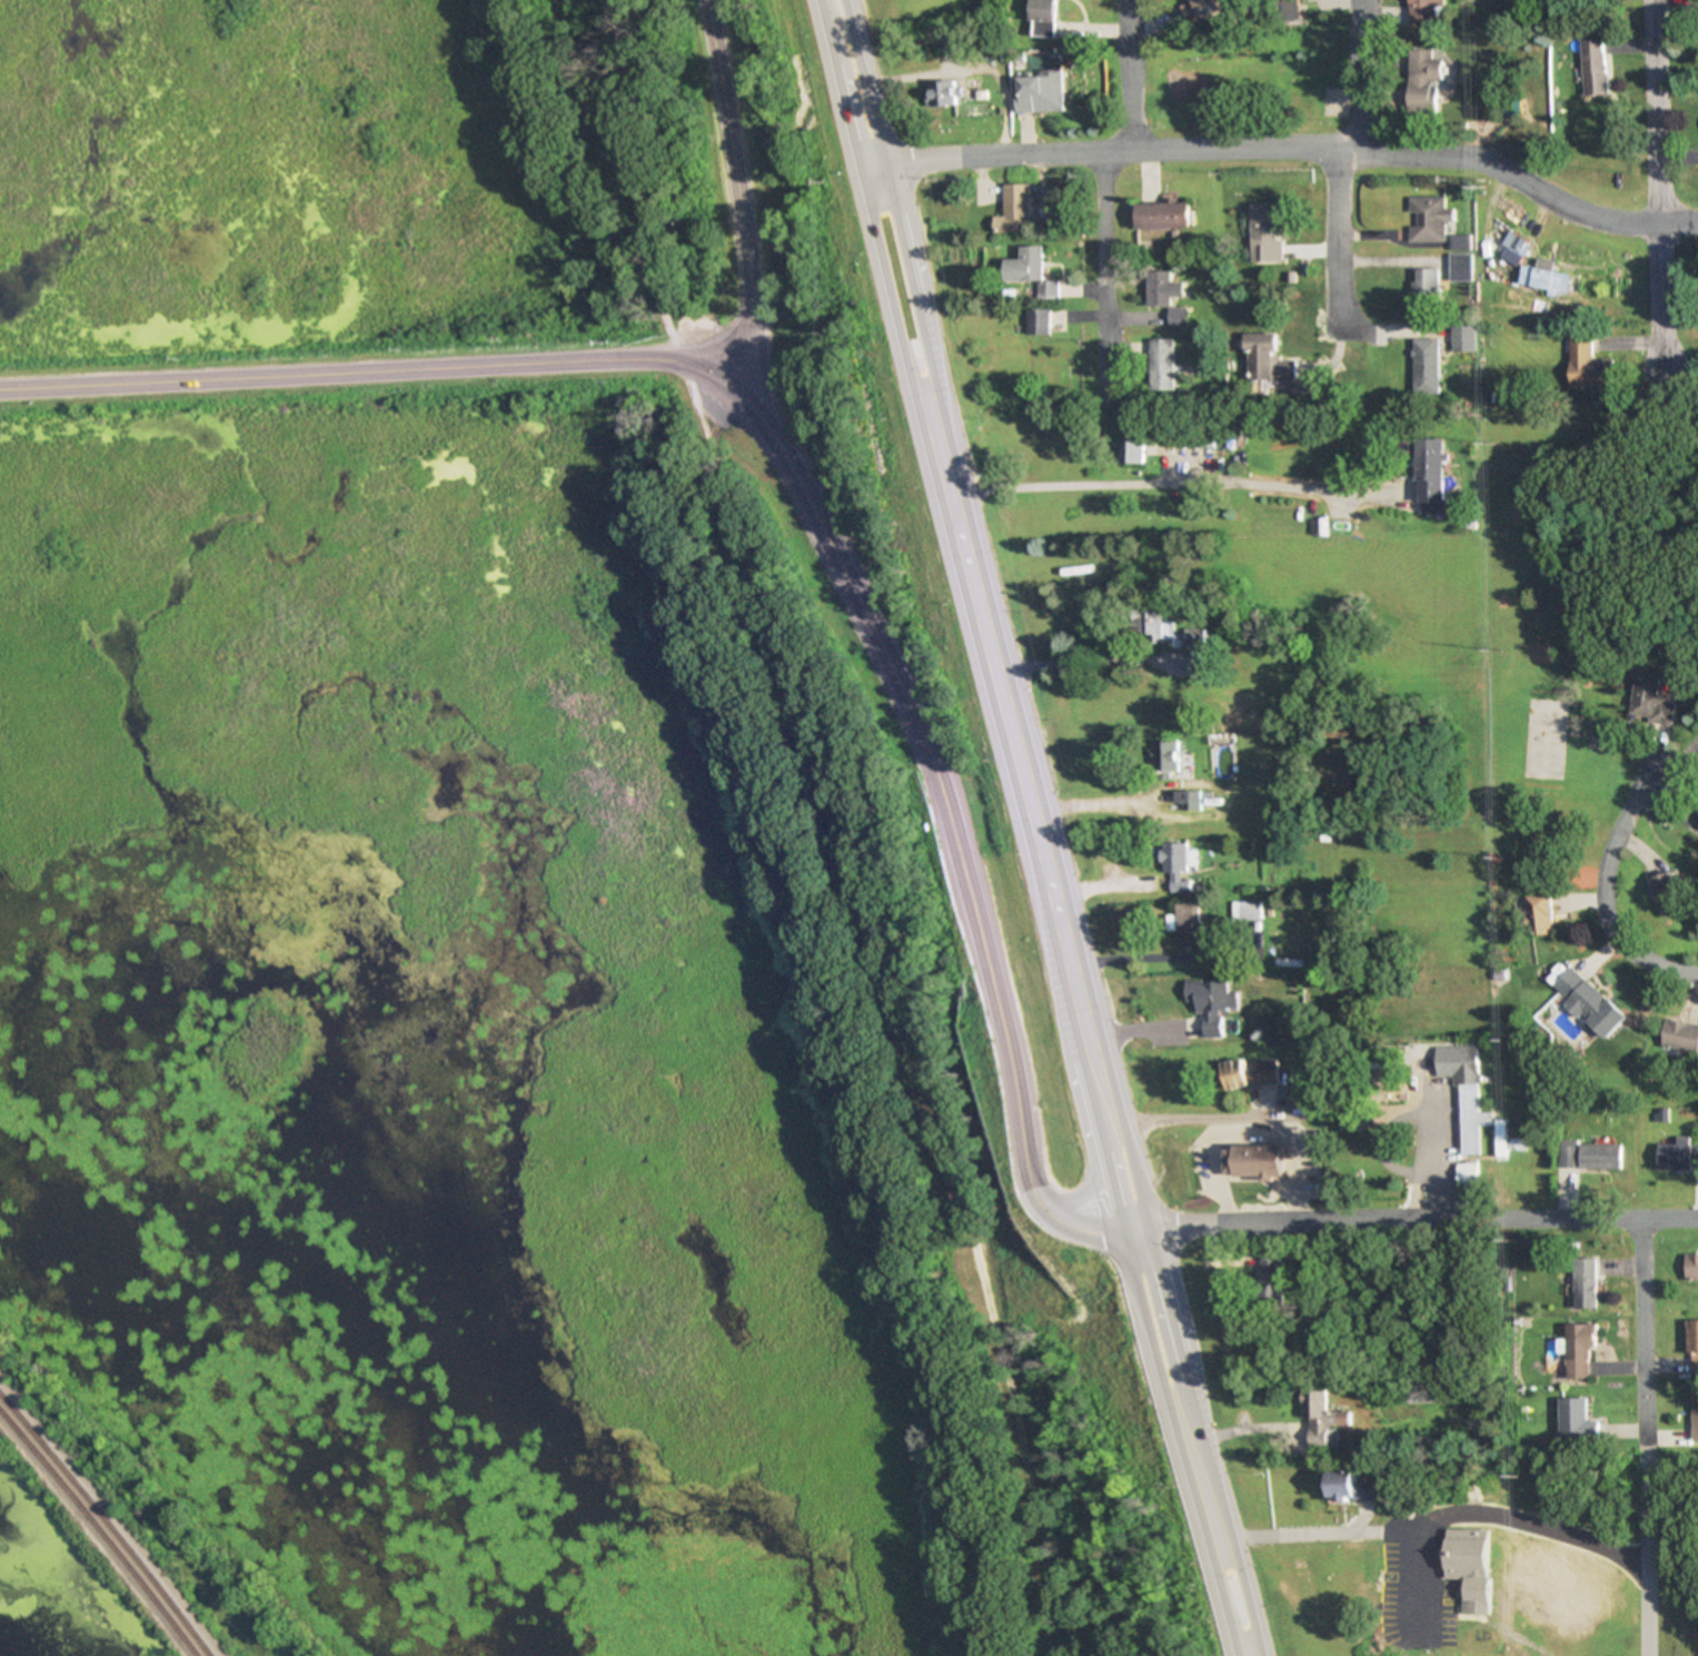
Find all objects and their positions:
building: (1205, 4)
building: (1285, 10)
building: (1427, 10)
building: (1044, 18)
building: (946, 44)
building: (1598, 68)
road: (1131, 73)
road: (1360, 80)
building: (1426, 86)
building: (1037, 92)
building: (942, 95)
road: (1231, 149)
road: (732, 191)
road: (1657, 195)
building: (1012, 209)
building: (1162, 214)
building: (1431, 218)
road: (1642, 222)
building: (1265, 232)
road: (908, 251)
road: (1335, 252)
road: (880, 255)
road: (1102, 261)
building: (1463, 267)
building: (1031, 270)
building: (1429, 285)
building: (1162, 292)
building: (1036, 320)
building: (1466, 337)
building: (1267, 358)
building: (1590, 361)
building: (1161, 364)
building: (1428, 365)
road: (764, 415)
building: (1195, 439)
building: (1131, 449)
building: (1431, 475)
road: (1658, 604)
building: (1151, 624)
building: (1192, 636)
road: (996, 697)
building: (1649, 701)
building: (1168, 753)
building: (1186, 796)
road: (1083, 803)
road: (841, 816)
building: (1175, 865)
building: (1666, 892)
road: (1599, 898)
building: (1543, 915)
building: (1190, 926)
road: (1062, 962)
building: (1589, 1003)
building: (1205, 1008)
building: (1679, 1037)
building: (1251, 1073)
road: (1061, 1085)
building: (1298, 1092)
building: (1466, 1095)
road: (1115, 1130)
road: (1092, 1132)
building: (1589, 1156)
building: (1678, 1156)
building: (1255, 1161)
building: (1464, 1176)
road: (1037, 1214)
road: (1419, 1218)
road: (1125, 1229)
building: (1691, 1265)
building: (1267, 1279)
building: (1583, 1283)
road: (1637, 1341)
building: (1692, 1346)
building: (1578, 1349)
building: (1408, 1392)
building: (1694, 1417)
building: (1320, 1420)
building: (1575, 1421)
road: (1201, 1441)
road: (1168, 1444)
building: (1351, 1488)
railway: (108, 1523)
road: (1357, 1527)
railway: (100, 1531)
road: (1636, 1561)
building: (1470, 1566)

